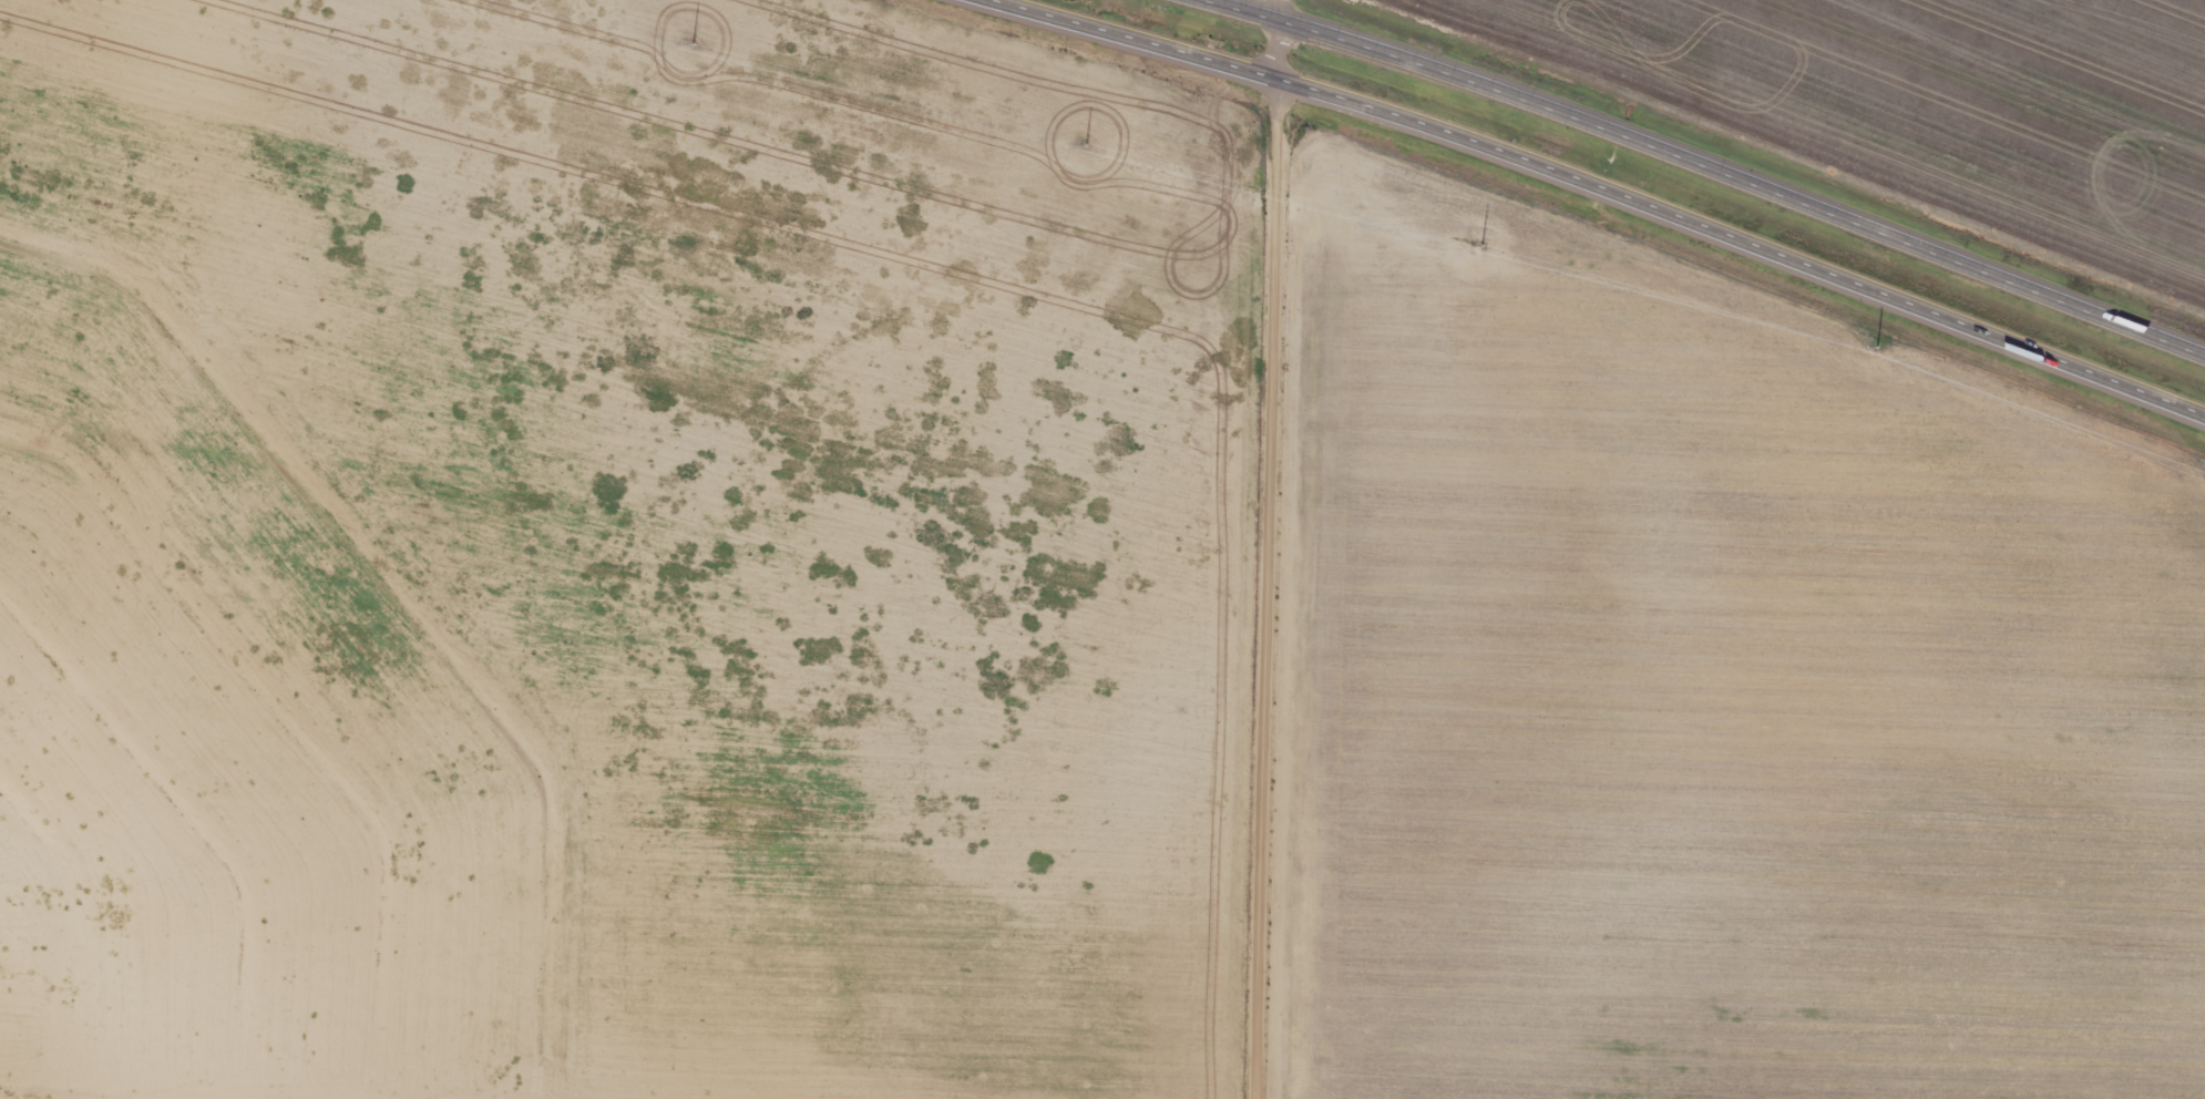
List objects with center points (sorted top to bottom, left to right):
road: (1281, 9)
power tower: (686, 49)
power tower: (1080, 148)
road: (1712, 164)
road: (1590, 191)
power tower: (1475, 249)
power tower: (1868, 349)
road: (1269, 558)

